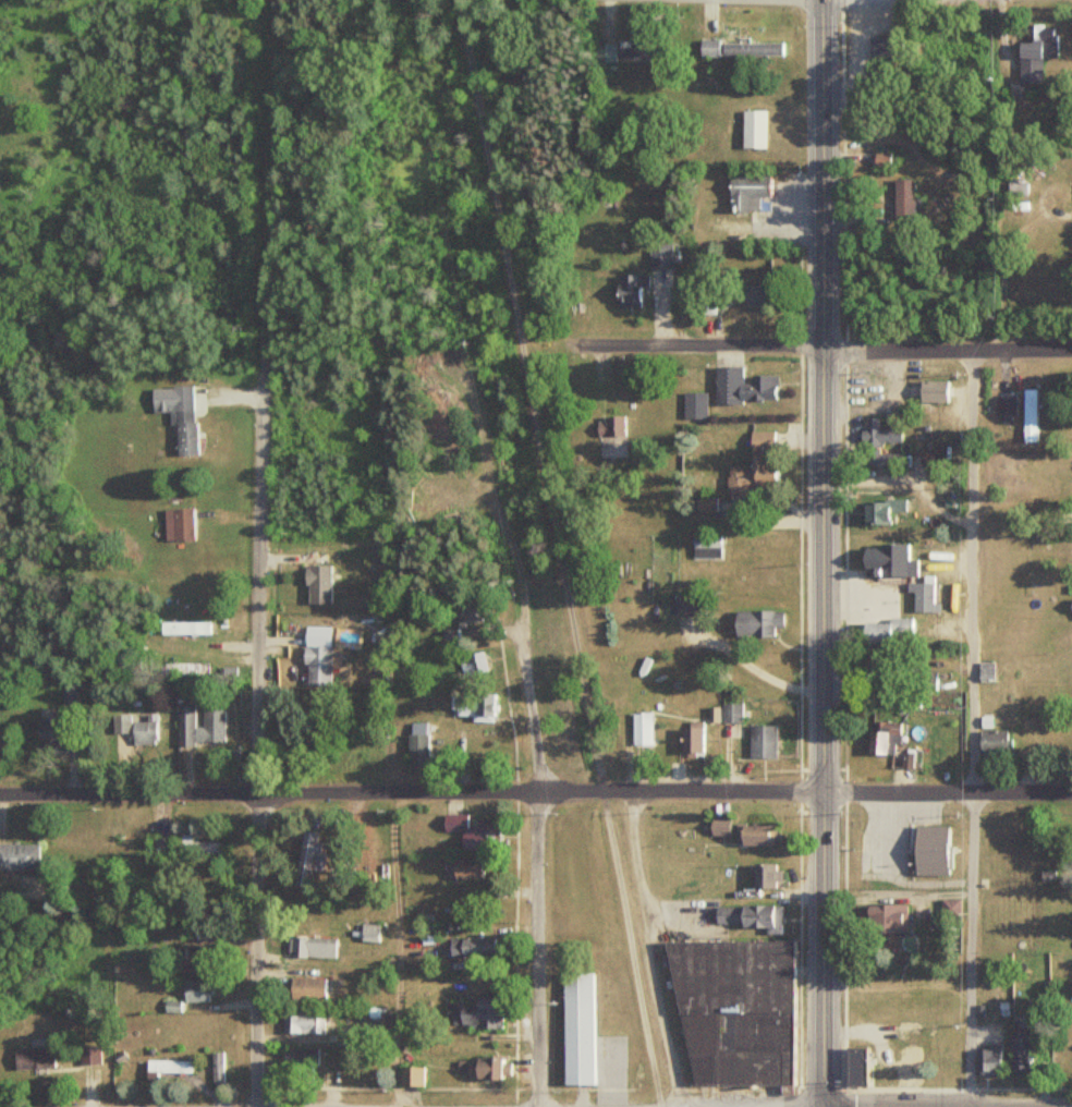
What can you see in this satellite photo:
building: (706, 48)
building: (751, 48)
building: (604, 52)
building: (1033, 56)
building: (752, 129)
road: (268, 146)
building: (746, 193)
building: (902, 199)
building: (659, 255)
building: (629, 289)
building: (755, 295)
road: (824, 350)
building: (741, 386)
building: (930, 391)
building: (693, 405)
building: (1004, 410)
building: (178, 415)
building: (609, 427)
building: (880, 433)
building: (753, 469)
building: (999, 474)
building: (704, 504)
building: (179, 524)
road: (559, 552)
road: (821, 552)
building: (887, 561)
building: (754, 577)
building: (317, 584)
building: (922, 597)
building: (686, 605)
building: (1070, 606)
building: (465, 615)
building: (754, 622)
building: (183, 628)
building: (884, 630)
building: (473, 662)
building: (316, 666)
building: (472, 710)
building: (724, 713)
road: (258, 719)
building: (198, 727)
building: (641, 729)
road: (973, 729)
building: (135, 730)
building: (48, 731)
building: (881, 738)
building: (691, 740)
building: (760, 741)
building: (994, 742)
building: (416, 744)
road: (535, 791)
building: (471, 835)
building: (755, 836)
building: (197, 848)
building: (158, 849)
building: (928, 851)
building: (19, 857)
building: (312, 863)
road: (536, 865)
building: (467, 868)
building: (764, 876)
building: (746, 917)
building: (885, 919)
building: (368, 934)
building: (472, 945)
building: (312, 948)
building: (197, 959)
building: (304, 989)
building: (194, 992)
building: (732, 1007)
building: (472, 1015)
building: (301, 1023)
building: (574, 1026)
building: (904, 1032)
building: (90, 1055)
building: (1019, 1055)
building: (34, 1058)
building: (305, 1058)
building: (987, 1061)
building: (168, 1067)
building: (853, 1068)
building: (906, 1068)
building: (487, 1070)
building: (409, 1078)

